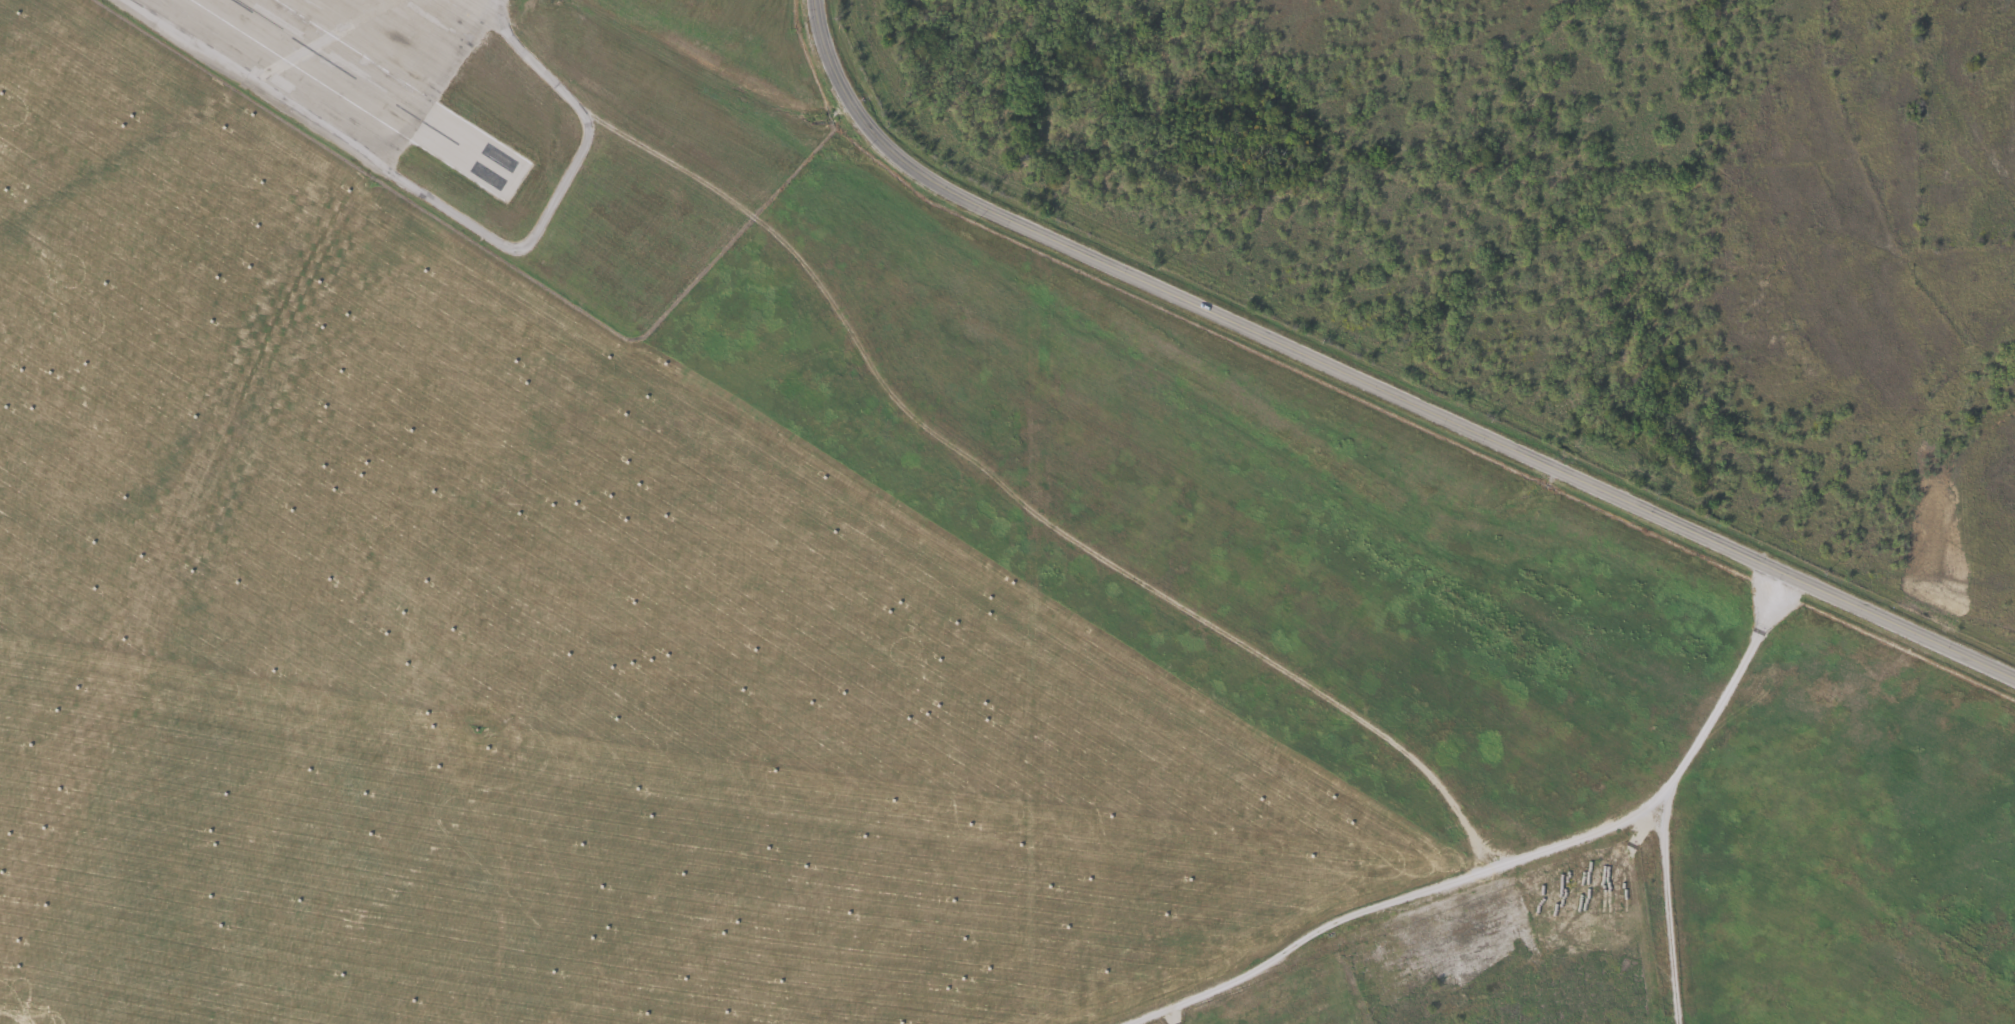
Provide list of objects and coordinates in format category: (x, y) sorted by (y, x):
airport runway: (390, 81)
airport: (538, 119)
road: (1378, 371)
road: (1729, 689)
road: (1389, 904)

